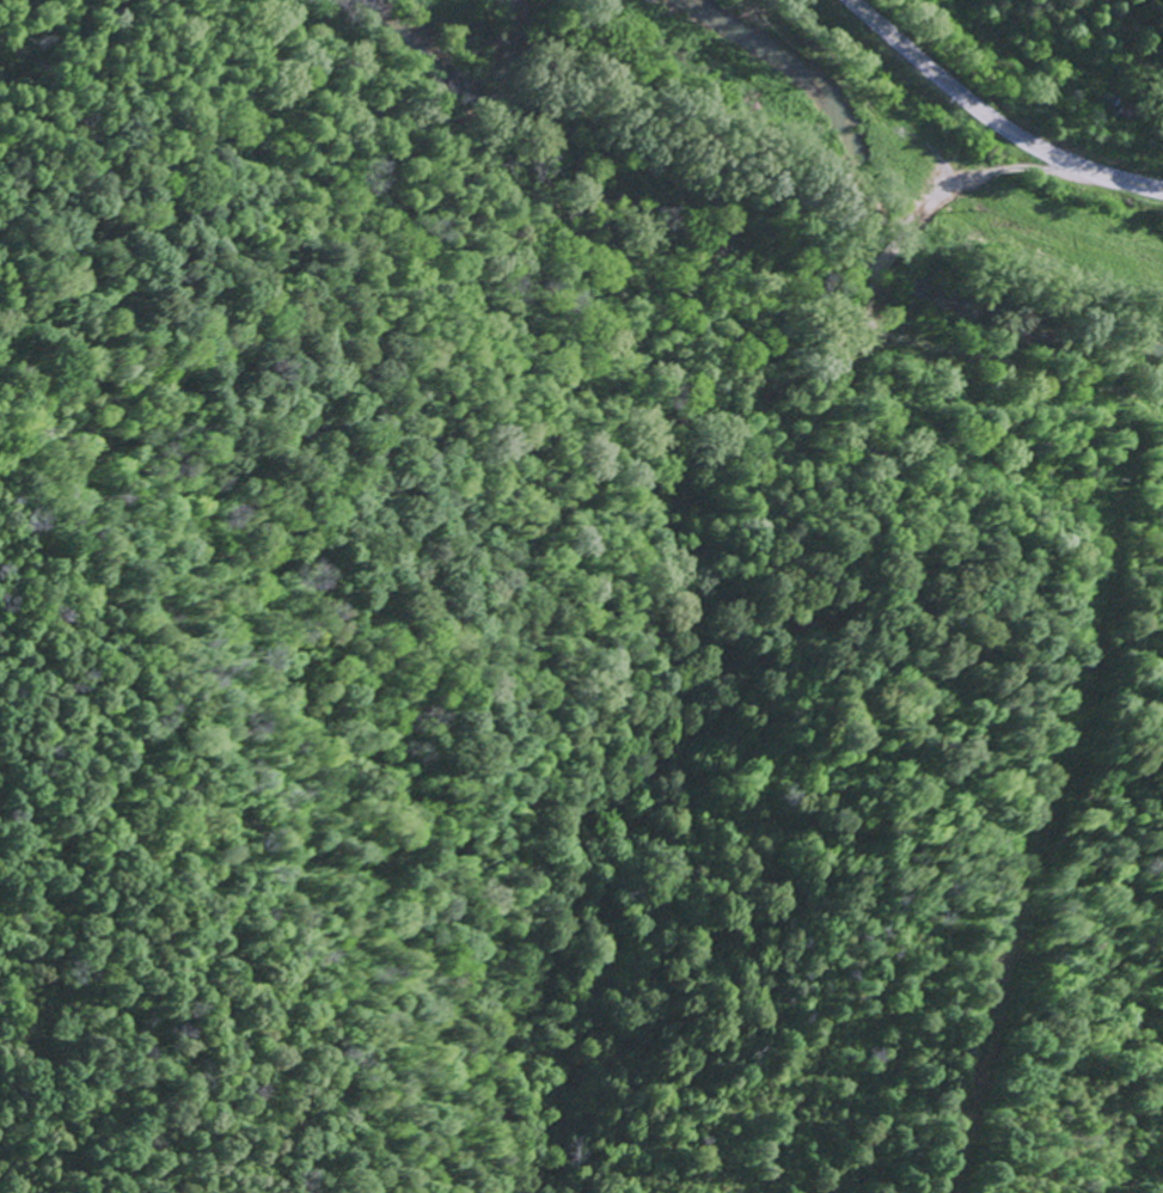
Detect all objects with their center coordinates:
road: (997, 115)
road: (467, 127)
road: (869, 323)

